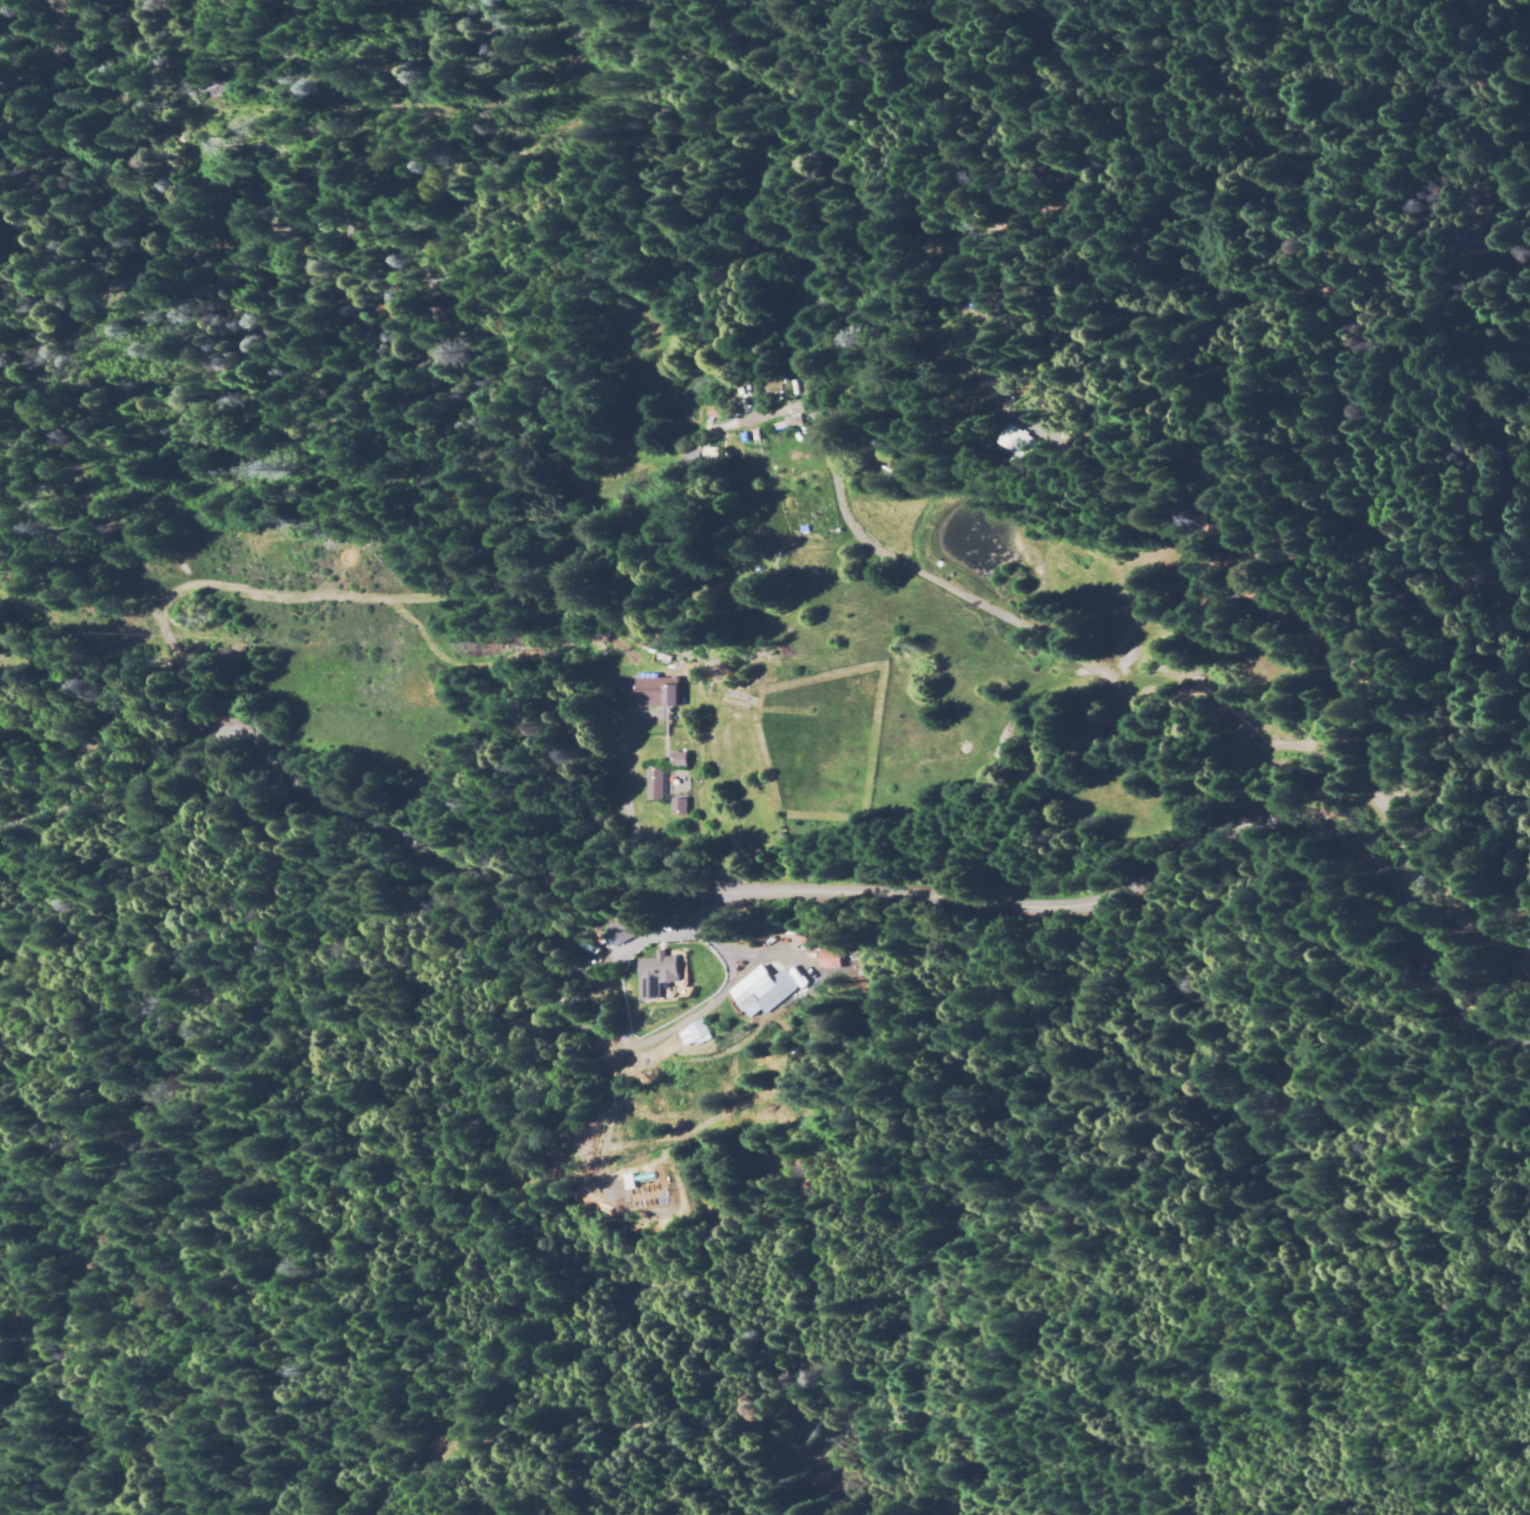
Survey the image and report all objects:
building: (1064, 19)
building: (748, 400)
building: (716, 413)
building: (790, 424)
building: (759, 437)
building: (698, 457)
building: (894, 473)
building: (806, 529)
building: (765, 552)
building: (654, 694)
building: (678, 760)
building: (654, 785)
building: (678, 808)
road: (794, 887)
building: (630, 929)
building: (829, 959)
building: (653, 964)
building: (761, 984)
building: (692, 1027)

